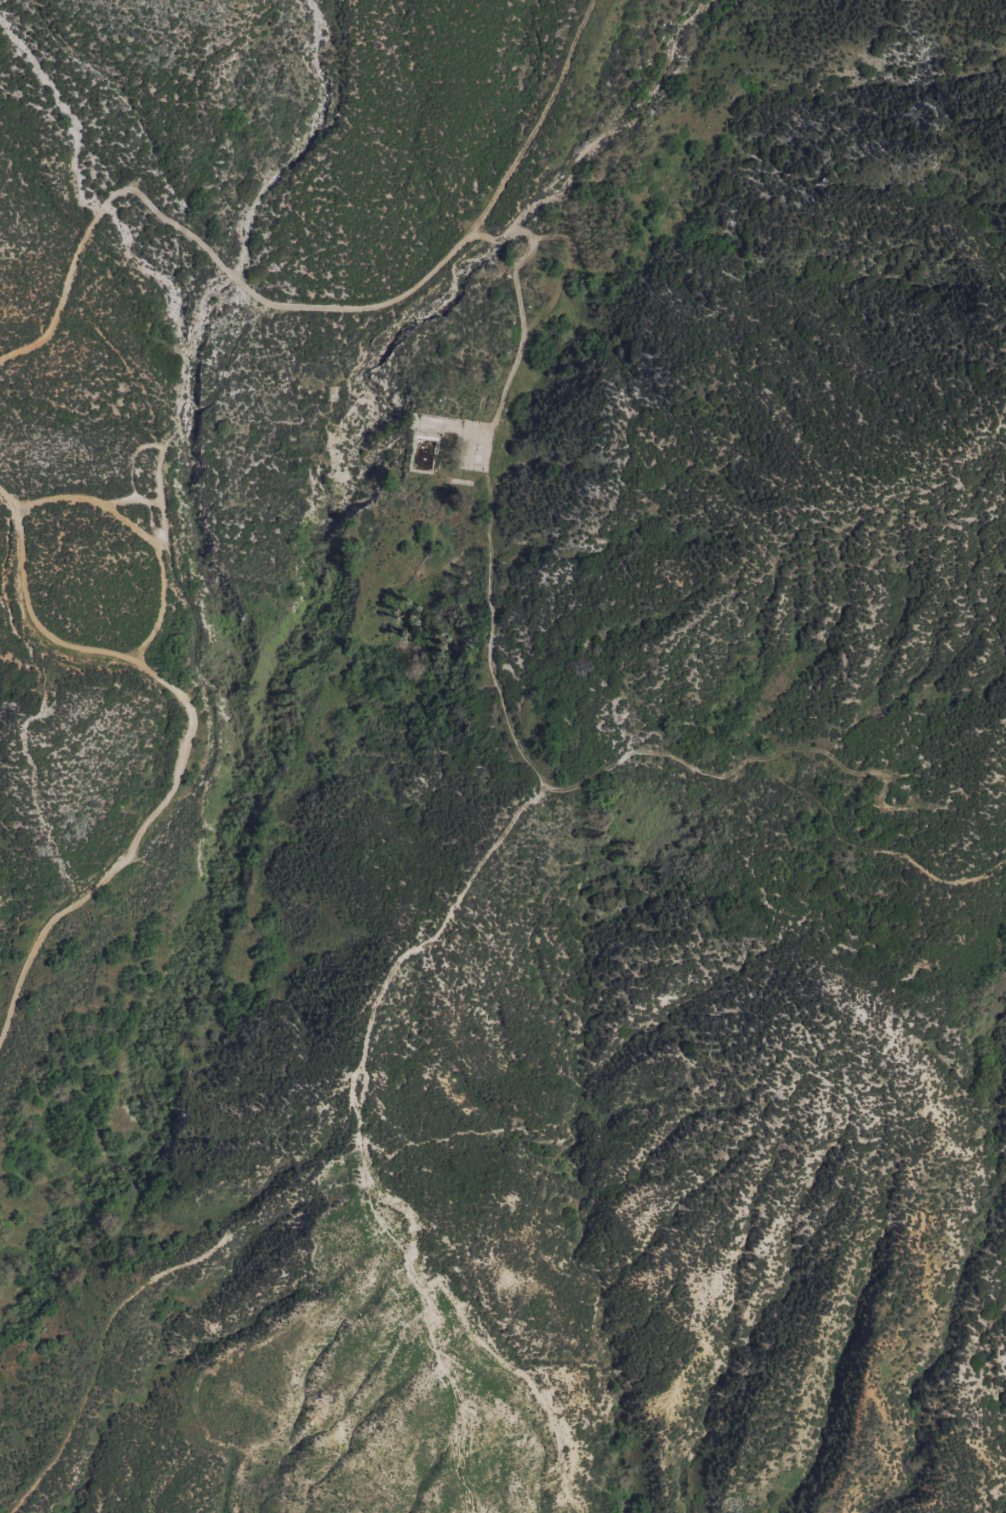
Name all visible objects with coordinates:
road: (79, 664)
road: (71, 908)

